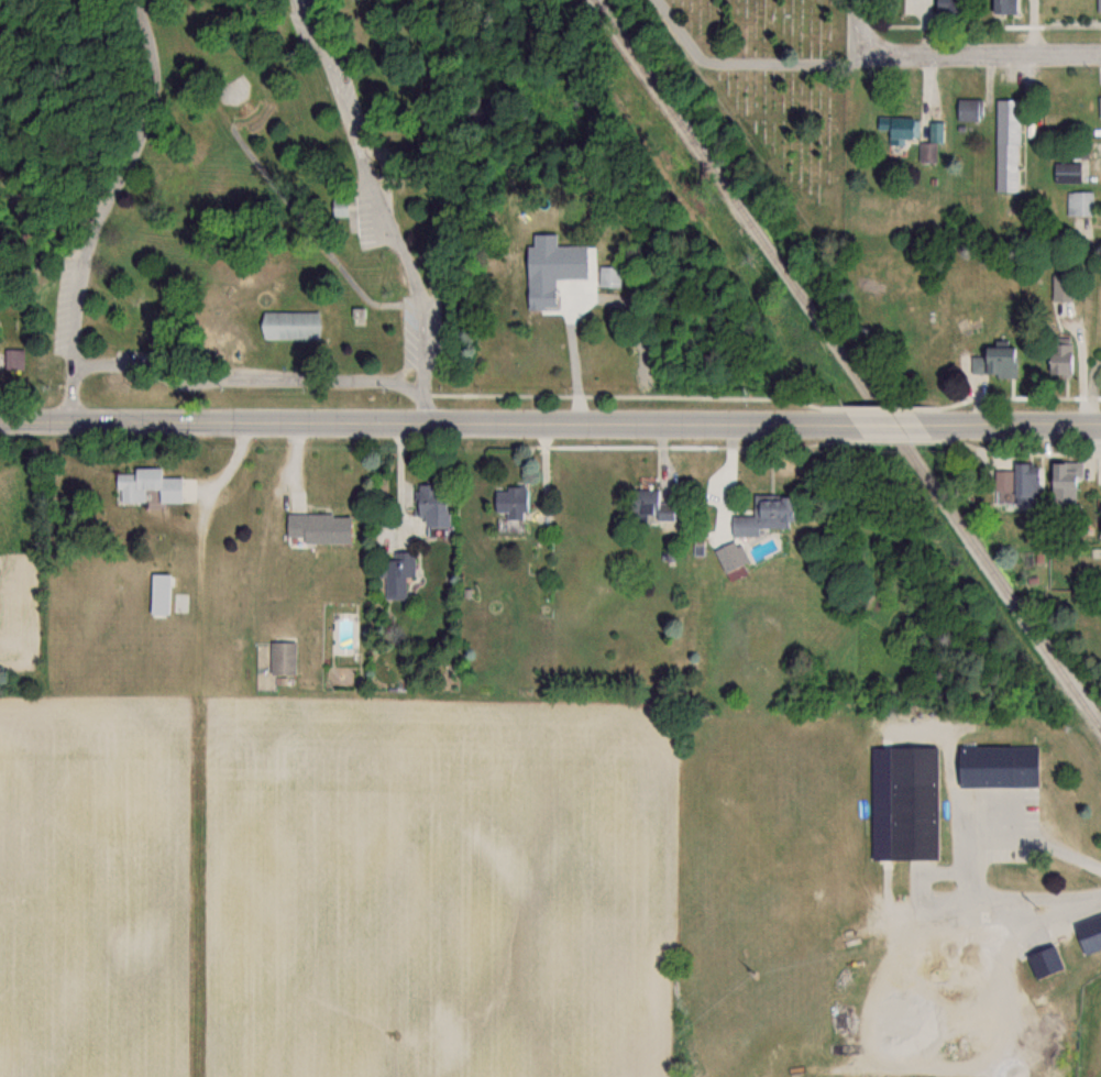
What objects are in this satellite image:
building: (949, 6)
building: (1003, 7)
road: (860, 21)
road: (980, 57)
park: (777, 90)
building: (1099, 107)
building: (967, 109)
building: (899, 128)
building: (1005, 145)
building: (1080, 146)
building: (927, 152)
building: (1066, 172)
park: (299, 188)
building: (1080, 204)
road: (108, 206)
building: (338, 207)
road: (383, 208)
parking lot: (365, 219)
building: (604, 276)
building: (537, 292)
parking lot: (62, 308)
building: (294, 327)
parking lot: (410, 332)
building: (1057, 356)
road: (571, 358)
building: (994, 361)
railway: (847, 364)
road: (250, 380)
road: (422, 422)
road: (1017, 424)
road: (890, 425)
road: (720, 481)
building: (1016, 483)
building: (1063, 483)
building: (144, 486)
building: (508, 501)
building: (430, 504)
building: (646, 505)
building: (761, 516)
building: (313, 527)
building: (729, 557)
building: (397, 573)
building: (161, 594)
building: (280, 658)
building: (997, 767)
building: (912, 803)
road: (976, 872)
building: (1088, 934)
building: (1046, 964)

